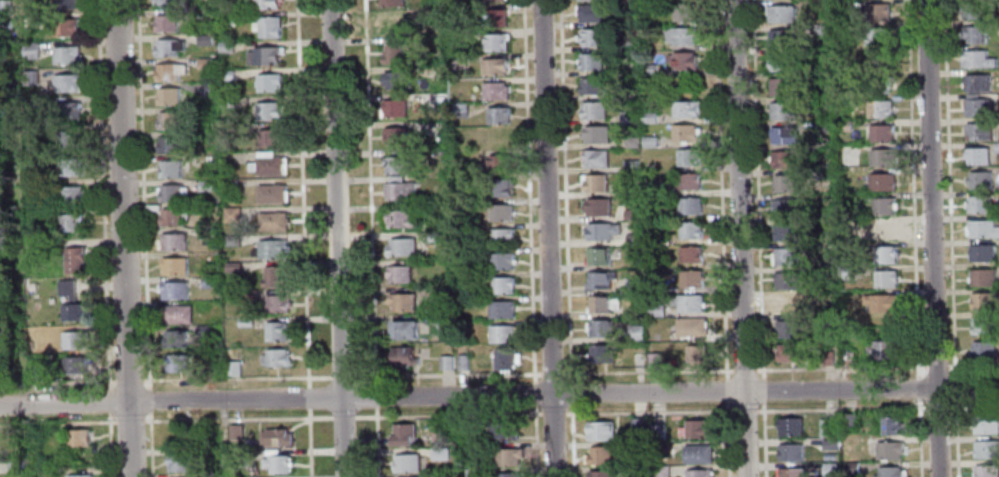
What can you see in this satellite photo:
building: (587, 0)
building: (493, 1)
building: (164, 2)
building: (391, 3)
building: (63, 4)
building: (264, 4)
building: (839, 5)
building: (5, 7)
building: (973, 10)
building: (876, 12)
building: (590, 13)
building: (683, 13)
building: (780, 14)
building: (495, 17)
building: (226, 18)
building: (165, 23)
building: (5, 25)
building: (392, 26)
building: (269, 27)
building: (64, 28)
building: (818, 29)
building: (974, 35)
building: (683, 36)
building: (876, 36)
building: (592, 38)
building: (780, 38)
building: (203, 39)
building: (496, 42)
building: (626, 44)
building: (168, 47)
building: (225, 47)
building: (29, 51)
building: (391, 54)
building: (2, 55)
building: (65, 55)
building: (265, 56)
building: (977, 60)
building: (458, 61)
building: (682, 61)
building: (591, 62)
building: (781, 62)
building: (203, 63)
building: (494, 67)
building: (647, 69)
building: (167, 72)
building: (226, 75)
building: (30, 77)
building: (396, 80)
building: (66, 83)
building: (268, 83)
building: (977, 83)
building: (878, 84)
building: (591, 86)
building: (782, 87)
building: (207, 89)
building: (495, 91)
building: (168, 96)
building: (972, 97)
building: (226, 101)
building: (31, 105)
building: (977, 108)
building: (395, 109)
building: (686, 109)
building: (878, 109)
building: (460, 110)
building: (67, 111)
building: (267, 111)
building: (593, 111)
building: (782, 111)
building: (498, 115)
building: (648, 117)
building: (628, 118)
building: (172, 121)
building: (843, 126)
building: (821, 127)
building: (227, 129)
building: (978, 132)
building: (684, 134)
building: (880, 134)
building: (596, 135)
building: (783, 135)
building: (395, 136)
building: (68, 138)
building: (270, 139)
building: (649, 142)
building: (633, 143)
building: (169, 145)
building: (996, 148)
building: (976, 156)
building: (687, 158)
building: (881, 158)
building: (596, 159)
building: (784, 160)
building: (499, 164)
building: (269, 166)
building: (396, 166)
building: (630, 166)
building: (69, 168)
building: (170, 169)
building: (979, 180)
building: (688, 182)
building: (881, 182)
building: (593, 183)
building: (785, 184)
building: (205, 185)
building: (229, 185)
building: (35, 186)
road: (949, 186)
road: (912, 187)
building: (499, 188)
road: (757, 188)
building: (398, 191)
road: (528, 191)
road: (302, 193)
building: (171, 194)
building: (270, 194)
road: (369, 194)
building: (69, 196)
building: (978, 204)
building: (688, 206)
building: (882, 206)
building: (596, 208)
building: (784, 208)
building: (652, 212)
building: (501, 213)
building: (231, 215)
building: (631, 215)
building: (171, 217)
building: (400, 220)
building: (273, 222)
building: (71, 223)
building: (982, 229)
building: (690, 230)
building: (884, 230)
building: (601, 231)
building: (785, 232)
building: (207, 234)
building: (428, 237)
building: (501, 237)
road: (104, 238)
road: (122, 238)
road: (144, 238)
road: (336, 238)
road: (546, 238)
road: (567, 238)
building: (633, 238)
road: (722, 238)
road: (738, 238)
road: (931, 238)
building: (231, 241)
building: (173, 242)
building: (400, 248)
building: (844, 248)
building: (272, 249)
building: (982, 253)
building: (690, 255)
building: (884, 255)
building: (598, 257)
building: (786, 257)
building: (73, 259)
building: (502, 261)
building: (174, 266)
building: (232, 267)
building: (845, 273)
building: (398, 274)
building: (4, 275)
building: (275, 277)
building: (982, 277)
building: (690, 279)
building: (599, 280)
building: (885, 280)
building: (787, 281)
building: (208, 283)
building: (502, 285)
building: (632, 285)
building: (174, 291)
building: (249, 295)
building: (983, 301)
building: (70, 303)
building: (401, 303)
building: (880, 303)
building: (276, 304)
building: (689, 304)
building: (599, 305)
building: (788, 306)
building: (501, 309)
building: (655, 310)
building: (634, 313)
building: (176, 315)
building: (244, 322)
building: (983, 326)
building: (691, 327)
building: (601, 329)
building: (788, 329)
building: (202, 331)
building: (276, 331)
building: (404, 331)
building: (6, 332)
building: (502, 334)
building: (636, 334)
building: (175, 339)
building: (74, 340)
building: (883, 351)
building: (983, 351)
building: (791, 353)
building: (601, 355)
building: (402, 356)
building: (698, 356)
building: (846, 357)
building: (275, 358)
building: (828, 358)
building: (504, 360)
building: (636, 360)
building: (653, 360)
building: (445, 363)
building: (462, 363)
building: (175, 364)
building: (74, 366)
road: (973, 366)
road: (936, 367)
building: (232, 368)
road: (840, 368)
road: (648, 370)
road: (744, 370)
building: (36, 371)
road: (551, 372)
road: (448, 375)
road: (344, 377)
road: (165, 378)
road: (918, 386)
road: (955, 386)
road: (762, 389)
road: (499, 395)
road: (308, 397)
road: (375, 397)
road: (971, 405)
road: (935, 407)
street lamp: (760, 408)
street lamp: (538, 410)
road: (640, 411)
street lamp: (354, 414)
road: (343, 416)
road: (223, 418)
building: (850, 418)
street lamp: (113, 419)
road: (57, 423)
building: (987, 424)
building: (640, 425)
building: (791, 425)
building: (893, 425)
building: (830, 427)
building: (696, 428)
road: (535, 429)
building: (601, 429)
building: (470, 430)
building: (507, 430)
building: (238, 431)
building: (659, 431)
building: (404, 433)
building: (438, 435)
building: (80, 436)
building: (276, 436)
road: (920, 437)
road: (956, 438)
road: (764, 439)
road: (309, 442)
road: (376, 442)
building: (988, 449)
building: (890, 450)
building: (791, 452)
building: (441, 453)
building: (699, 453)
building: (600, 454)
building: (510, 456)
building: (240, 458)
building: (466, 460)
building: (181, 462)
building: (408, 462)
building: (277, 463)
building: (16, 465)
building: (832, 470)
building: (889, 471)
building: (986, 471)
building: (474, 472)
building: (700, 472)
building: (792, 472)
building: (602, 473)
building: (511, 474)
building: (80, 475)

